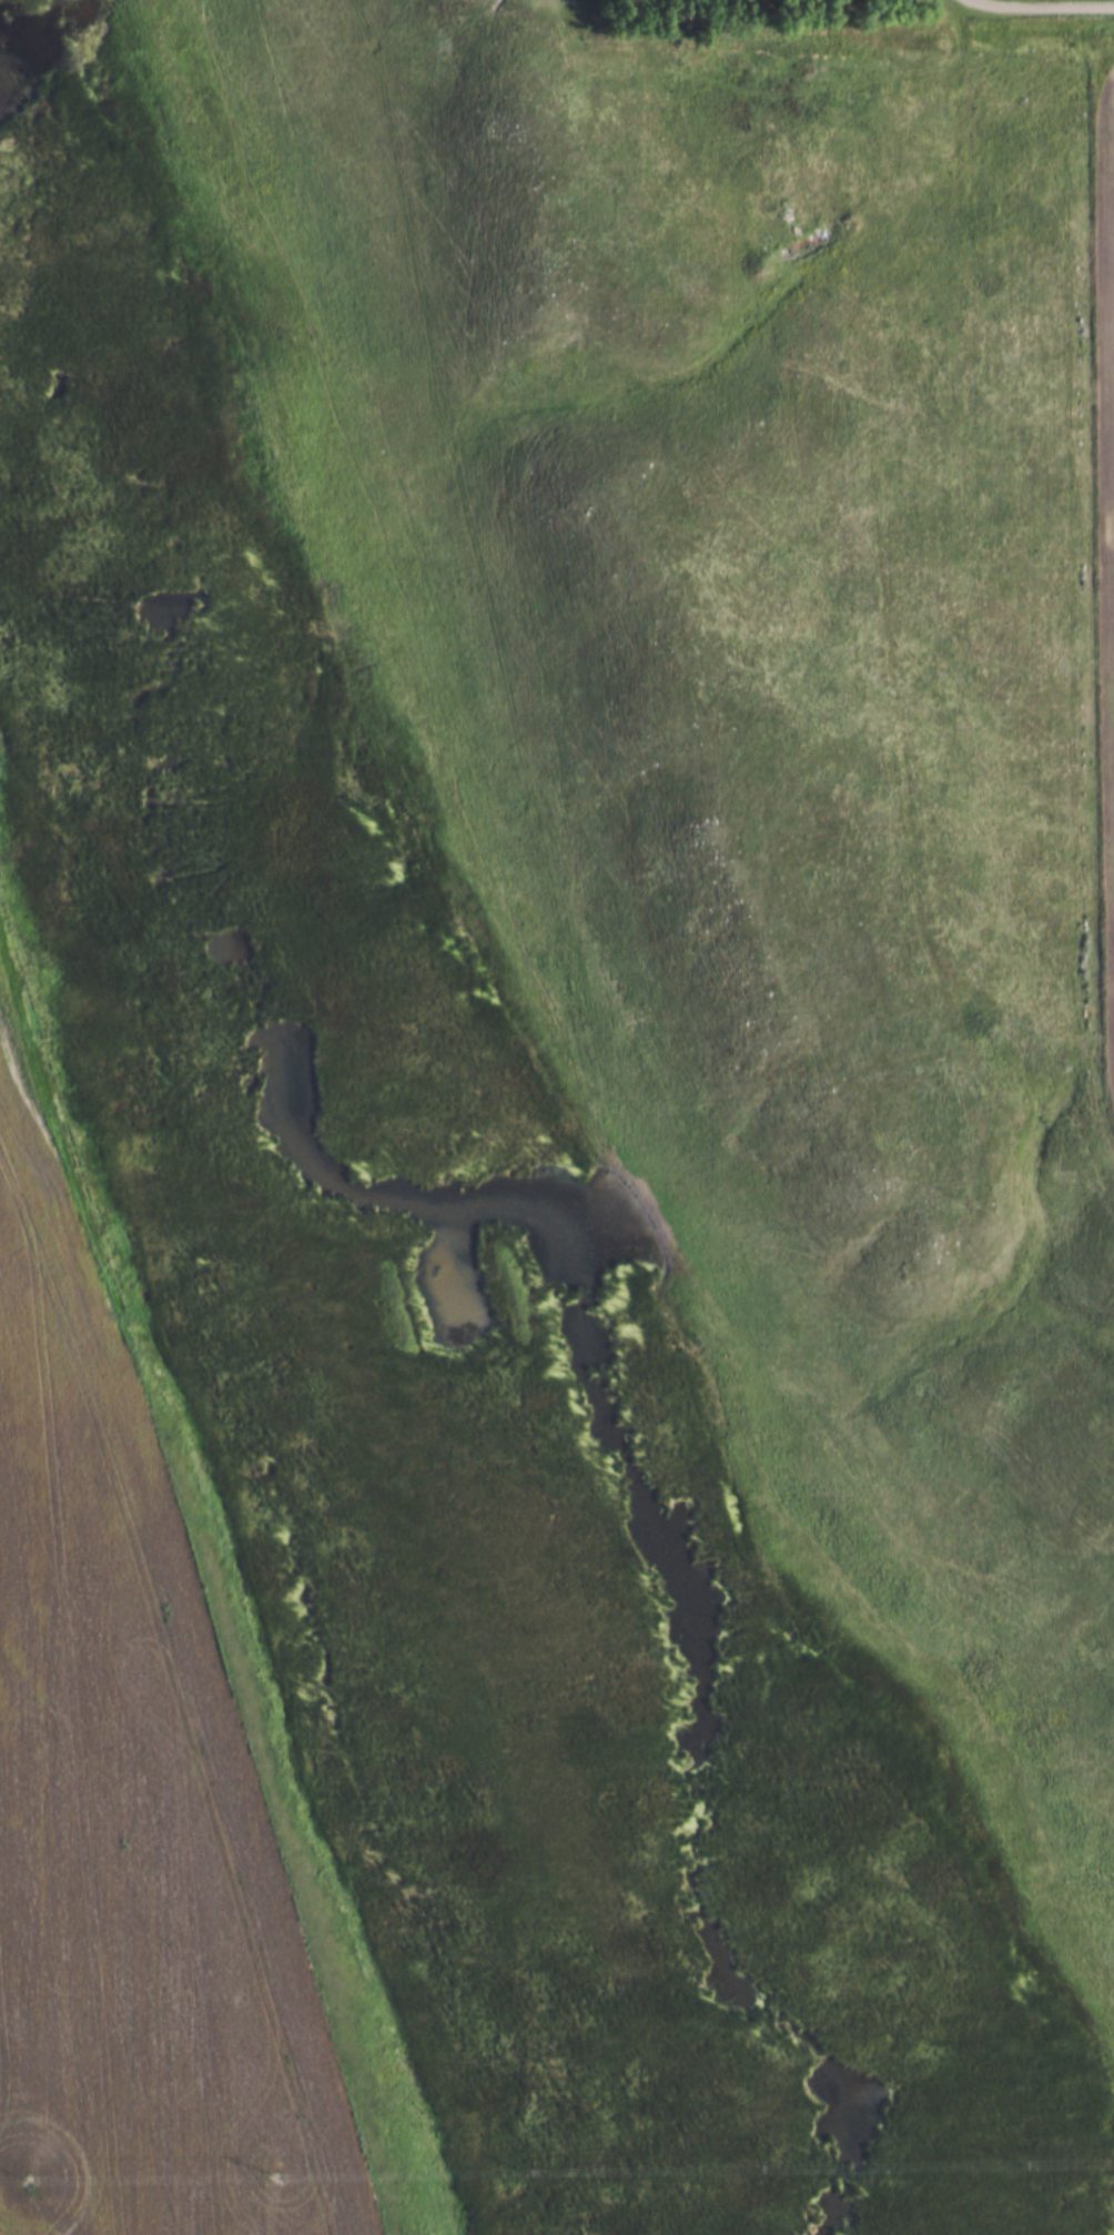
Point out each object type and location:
road: (1023, 3)
road: (1045, 7)

